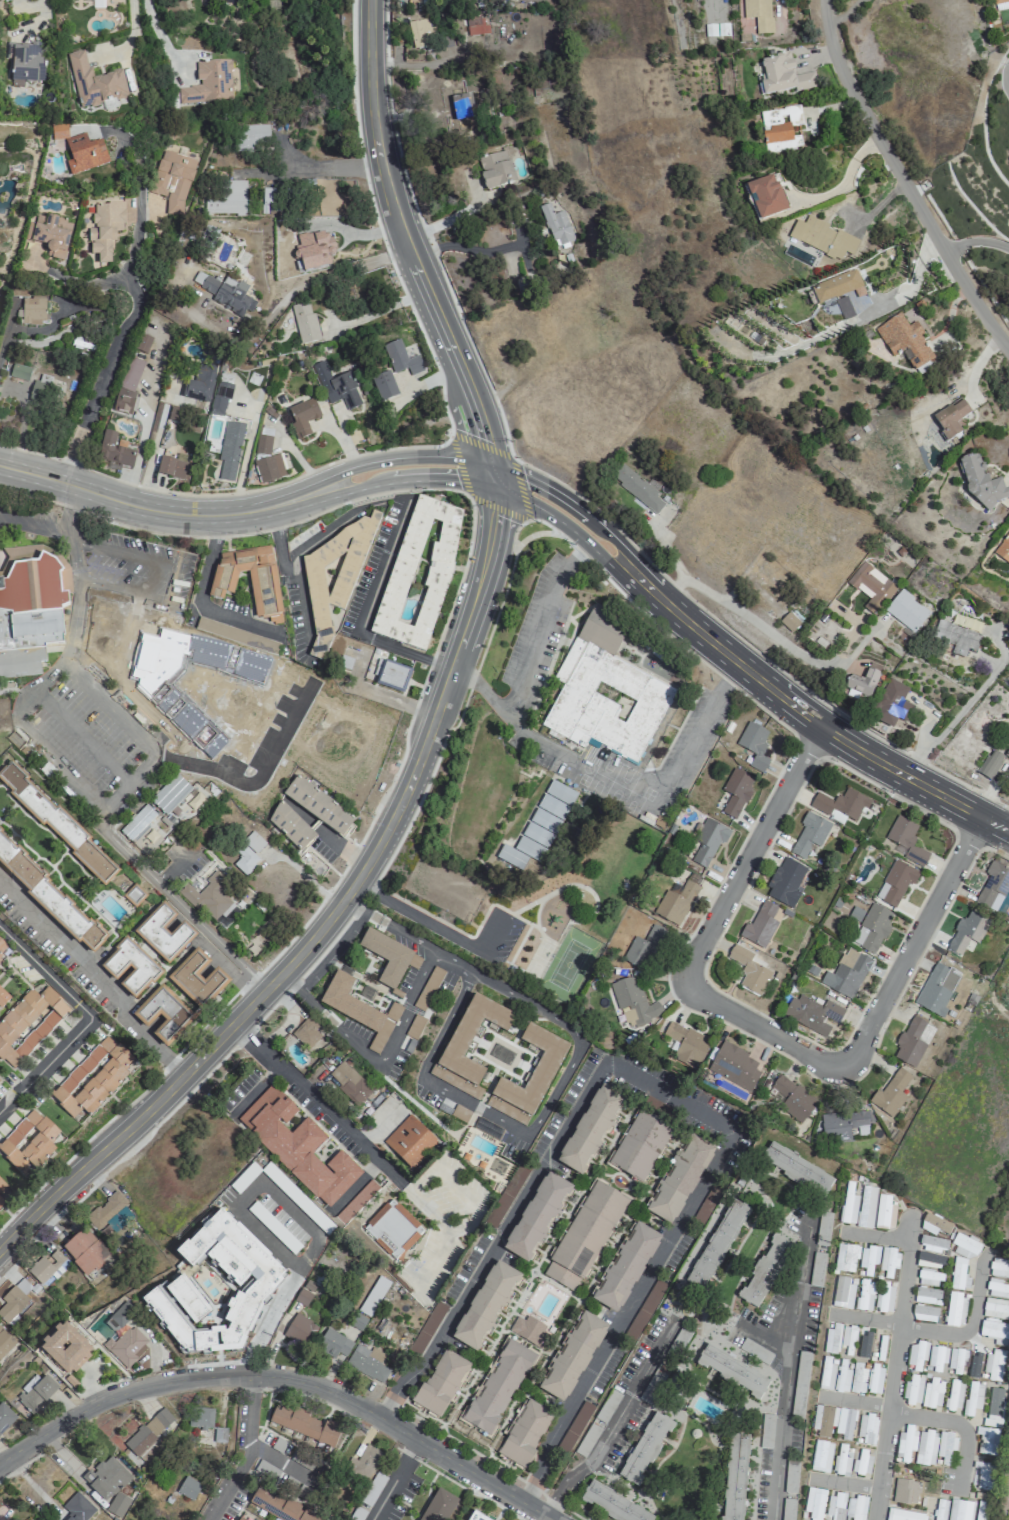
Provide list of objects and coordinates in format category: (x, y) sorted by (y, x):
building: (1000, 5)
road: (41, 10)
road: (842, 10)
building: (758, 14)
building: (475, 25)
road: (156, 28)
building: (713, 33)
building: (421, 35)
road: (132, 38)
building: (26, 62)
building: (784, 76)
building: (94, 82)
building: (208, 84)
building: (470, 103)
building: (780, 129)
building: (250, 137)
building: (80, 151)
building: (496, 169)
road: (330, 172)
building: (172, 180)
road: (904, 180)
building: (226, 198)
building: (766, 198)
building: (556, 226)
building: (105, 229)
building: (50, 235)
building: (822, 239)
road: (976, 240)
road: (403, 244)
road: (472, 249)
road: (328, 270)
road: (87, 282)
building: (837, 287)
building: (226, 293)
building: (32, 312)
building: (304, 323)
road: (125, 324)
road: (31, 331)
building: (904, 340)
building: (142, 343)
building: (401, 358)
building: (20, 372)
building: (199, 384)
building: (127, 385)
building: (384, 385)
building: (336, 386)
building: (40, 388)
building: (220, 399)
building: (302, 417)
building: (951, 418)
road: (450, 437)
building: (262, 445)
building: (114, 450)
building: (230, 450)
building: (171, 468)
building: (269, 469)
traffic signals: (491, 477)
building: (982, 484)
building: (639, 489)
road: (246, 511)
road: (70, 512)
road: (31, 530)
road: (321, 535)
building: (1003, 550)
road: (290, 571)
building: (419, 573)
building: (334, 577)
road: (174, 579)
building: (249, 580)
building: (871, 587)
road: (198, 594)
building: (29, 610)
building: (906, 611)
road: (363, 613)
building: (789, 622)
road: (770, 633)
building: (956, 638)
road: (529, 650)
road: (741, 666)
building: (390, 676)
building: (862, 682)
road: (417, 692)
building: (605, 692)
road: (971, 699)
building: (892, 704)
building: (3, 709)
road: (706, 716)
road: (449, 727)
road: (525, 731)
road: (85, 739)
road: (34, 740)
building: (754, 745)
building: (1007, 753)
building: (949, 758)
building: (990, 764)
road: (138, 777)
road: (254, 780)
building: (736, 792)
building: (170, 794)
fountain: (664, 805)
building: (840, 805)
building: (318, 806)
building: (56, 823)
building: (137, 823)
building: (290, 827)
building: (539, 827)
building: (809, 834)
building: (905, 840)
building: (708, 841)
road: (341, 848)
building: (248, 853)
road: (302, 873)
park: (480, 874)
building: (785, 882)
building: (896, 883)
building: (993, 887)
building: (48, 897)
building: (208, 897)
building: (676, 904)
road: (332, 913)
road: (432, 926)
building: (760, 926)
road: (386, 927)
building: (872, 928)
building: (966, 932)
building: (163, 933)
building: (2, 947)
building: (644, 948)
building: (389, 957)
building: (0, 960)
road: (454, 962)
building: (113, 968)
building: (749, 971)
road: (44, 973)
building: (846, 974)
building: (197, 979)
road: (89, 981)
building: (936, 990)
building: (3, 997)
building: (633, 1002)
building: (359, 1010)
building: (812, 1011)
building: (164, 1015)
building: (28, 1024)
road: (762, 1026)
building: (306, 1032)
building: (912, 1042)
building: (686, 1044)
building: (468, 1045)
road: (376, 1060)
road: (44, 1063)
building: (545, 1064)
building: (734, 1066)
building: (92, 1079)
building: (349, 1082)
building: (891, 1093)
road: (669, 1097)
building: (793, 1098)
road: (310, 1099)
building: (460, 1113)
building: (843, 1125)
building: (590, 1129)
road: (527, 1132)
building: (28, 1142)
building: (409, 1142)
building: (640, 1145)
building: (297, 1146)
building: (796, 1169)
building: (680, 1179)
building: (1, 1187)
road: (255, 1190)
building: (506, 1196)
building: (1, 1202)
building: (356, 1202)
building: (848, 1204)
building: (866, 1207)
building: (105, 1211)
building: (884, 1213)
building: (537, 1217)
building: (934, 1225)
building: (392, 1229)
building: (584, 1236)
road: (876, 1237)
building: (932, 1244)
building: (965, 1246)
building: (195, 1247)
building: (710, 1249)
building: (84, 1251)
building: (845, 1258)
building: (868, 1259)
building: (930, 1260)
building: (888, 1261)
building: (48, 1267)
building: (625, 1267)
building: (999, 1267)
building: (764, 1272)
building: (959, 1274)
building: (929, 1278)
building: (997, 1288)
road: (285, 1290)
building: (842, 1293)
building: (374, 1295)
building: (865, 1295)
building: (303, 1296)
building: (927, 1296)
building: (885, 1299)
building: (187, 1300)
building: (14, 1301)
building: (486, 1305)
building: (995, 1308)
building: (645, 1309)
building: (955, 1309)
building: (924, 1313)
building: (119, 1317)
building: (239, 1319)
road: (868, 1321)
building: (427, 1328)
road: (968, 1328)
building: (300, 1330)
building: (529, 1330)
building: (995, 1332)
road: (764, 1337)
building: (832, 1339)
building: (5, 1342)
building: (333, 1344)
building: (864, 1345)
building: (126, 1346)
road: (258, 1347)
building: (65, 1349)
building: (916, 1355)
building: (572, 1356)
building: (937, 1357)
building: (956, 1360)
building: (367, 1363)
building: (994, 1365)
building: (974, 1366)
road: (895, 1369)
building: (732, 1371)
road: (286, 1377)
building: (842, 1377)
road: (785, 1379)
building: (858, 1379)
building: (875, 1381)
building: (440, 1383)
building: (498, 1386)
building: (913, 1390)
building: (36, 1393)
building: (932, 1393)
building: (954, 1395)
building: (973, 1397)
building: (994, 1407)
building: (5, 1417)
building: (200, 1417)
road: (923, 1418)
building: (158, 1422)
road: (614, 1422)
building: (832, 1422)
building: (304, 1425)
building: (866, 1428)
building: (524, 1433)
building: (219, 1435)
building: (139, 1441)
building: (986, 1441)
building: (905, 1444)
building: (945, 1446)
building: (644, 1448)
building: (925, 1448)
road: (246, 1452)
building: (821, 1456)
building: (841, 1460)
building: (861, 1463)
building: (362, 1464)
building: (735, 1476)
building: (983, 1476)
road: (394, 1479)
building: (1005, 1483)
building: (109, 1484)
road: (845, 1485)
building: (188, 1488)
building: (905, 1491)
building: (814, 1503)
building: (612, 1504)
building: (434, 1505)
building: (277, 1506)
building: (835, 1507)
building: (77, 1508)
building: (855, 1508)
building: (940, 1509)
building: (960, 1510)
building: (981, 1510)
building: (903, 1515)
building: (475, 1517)
building: (238, 1519)

